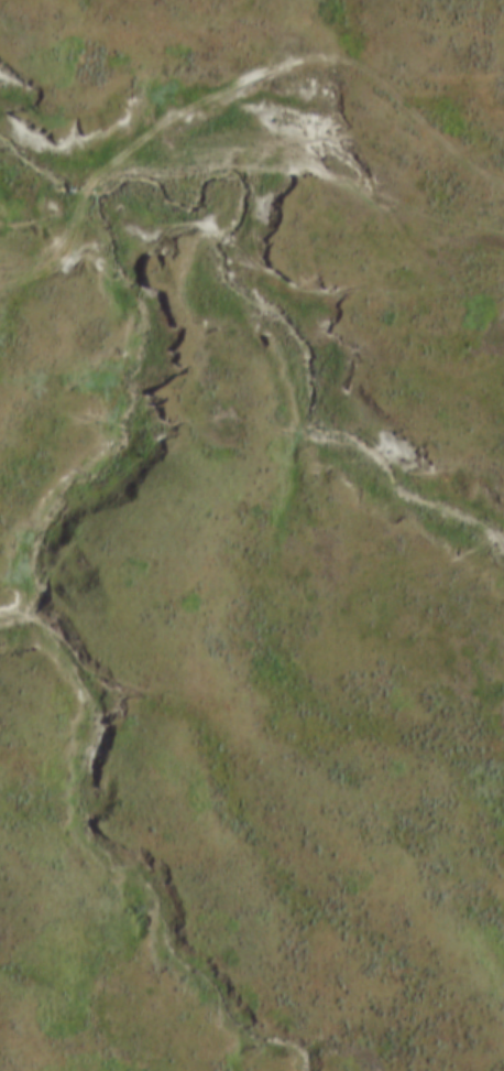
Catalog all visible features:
road: (232, 89)

